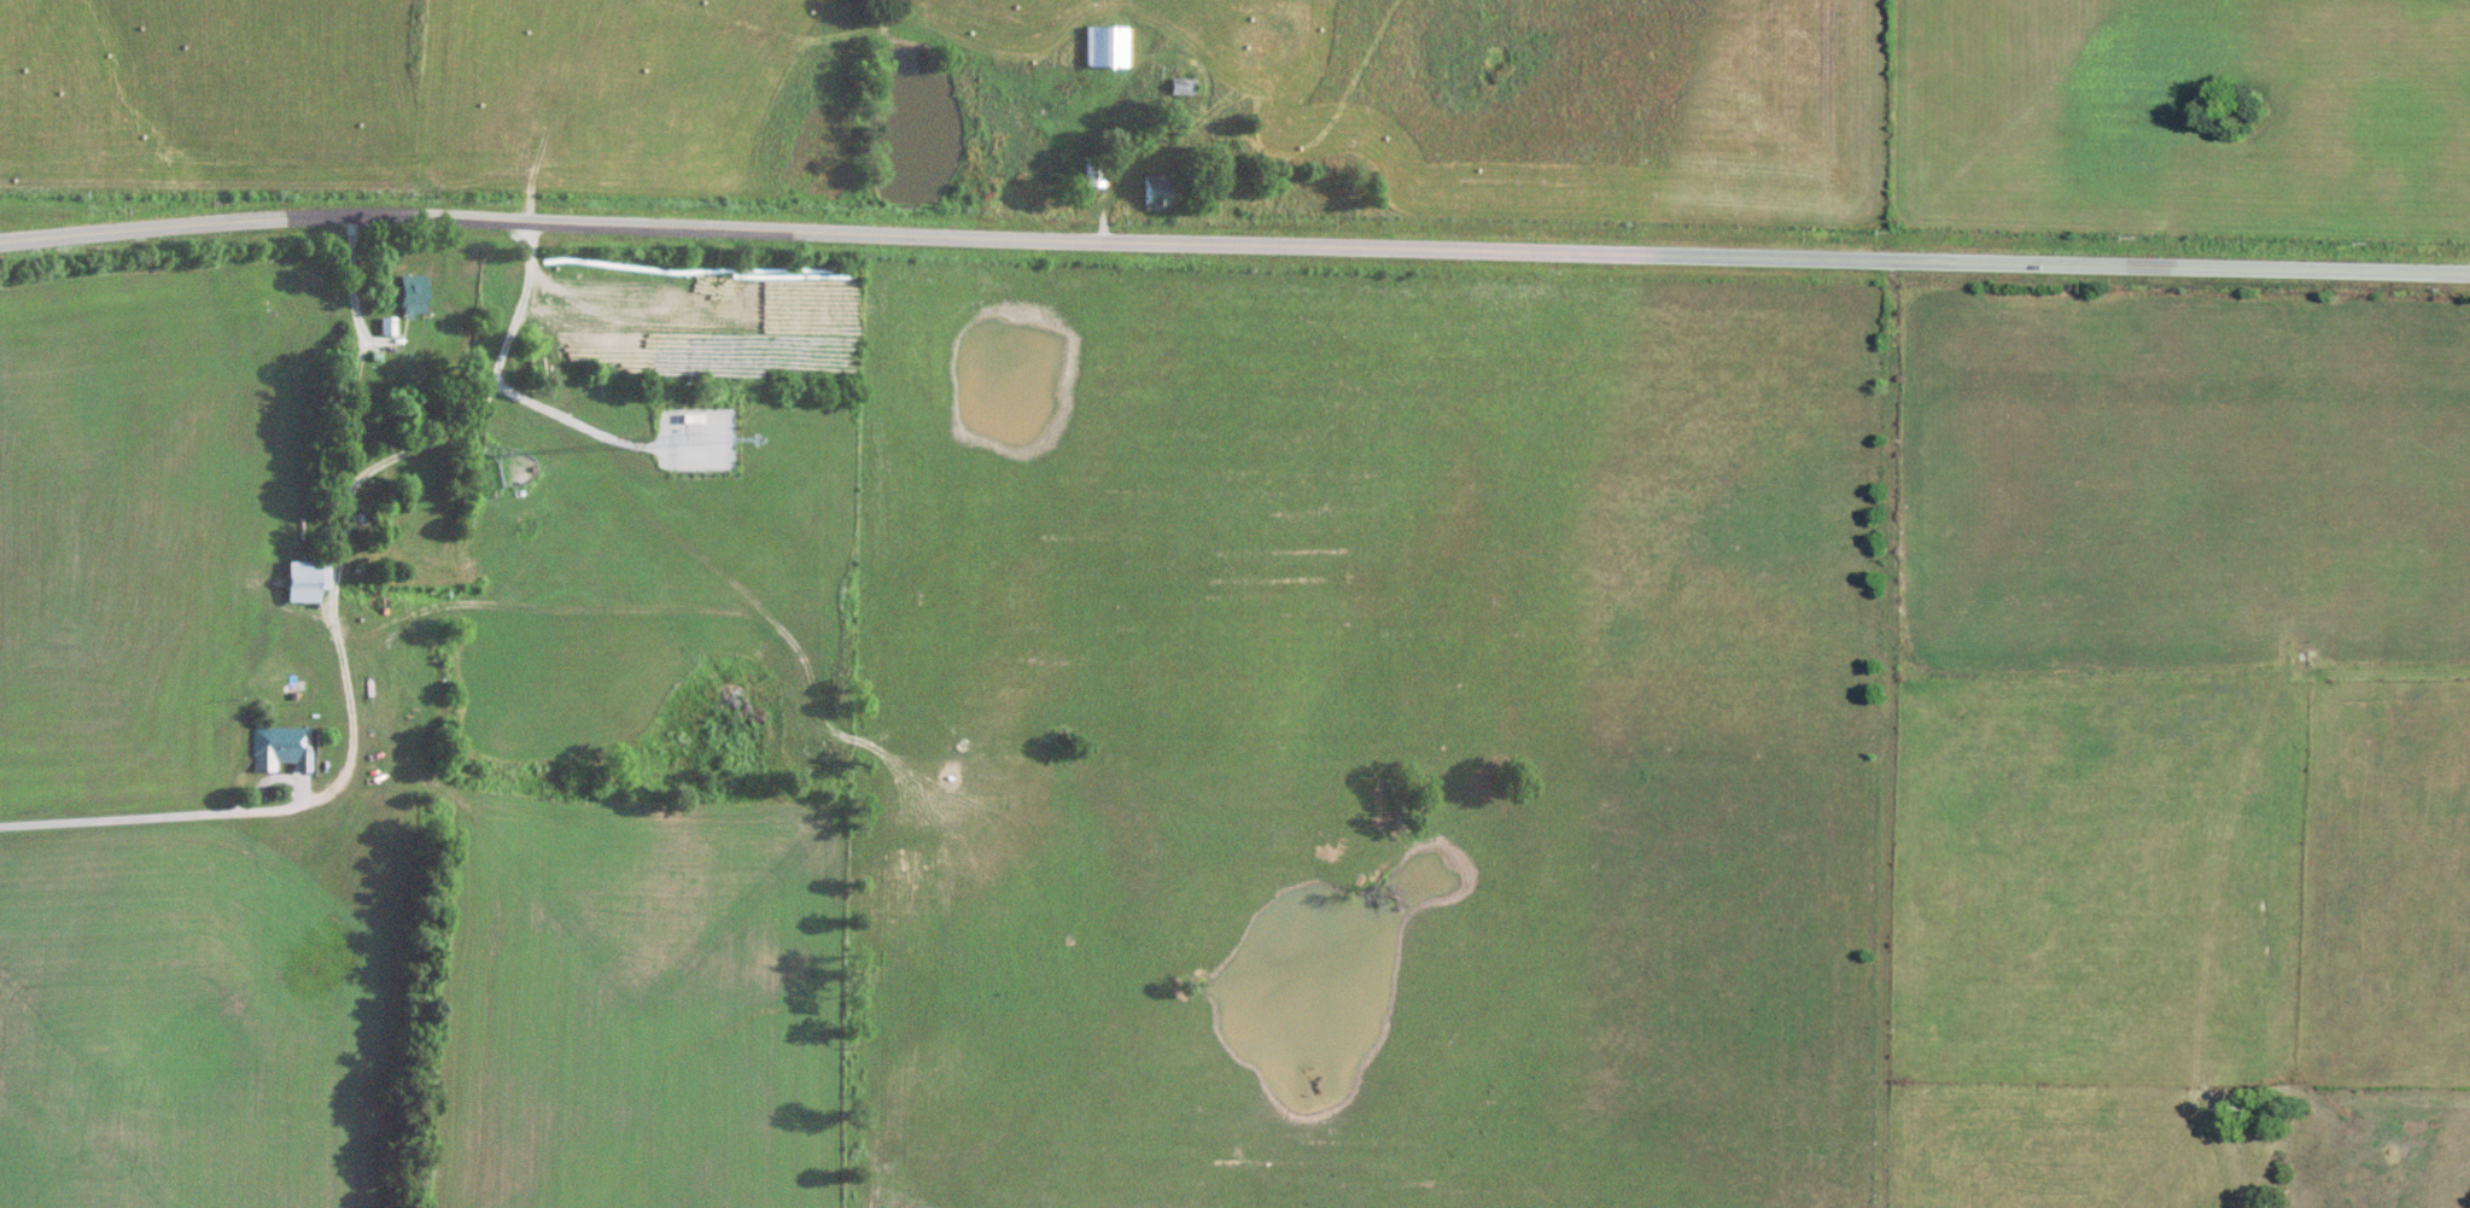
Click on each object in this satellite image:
building: (1103, 46)
building: (1179, 86)
building: (1092, 174)
building: (1154, 191)
road: (1234, 244)
building: (408, 292)
building: (384, 323)
road: (487, 390)
building: (443, 414)
building: (409, 416)
road: (341, 519)
building: (303, 579)
building: (280, 748)
road: (269, 807)
road: (118, 817)

